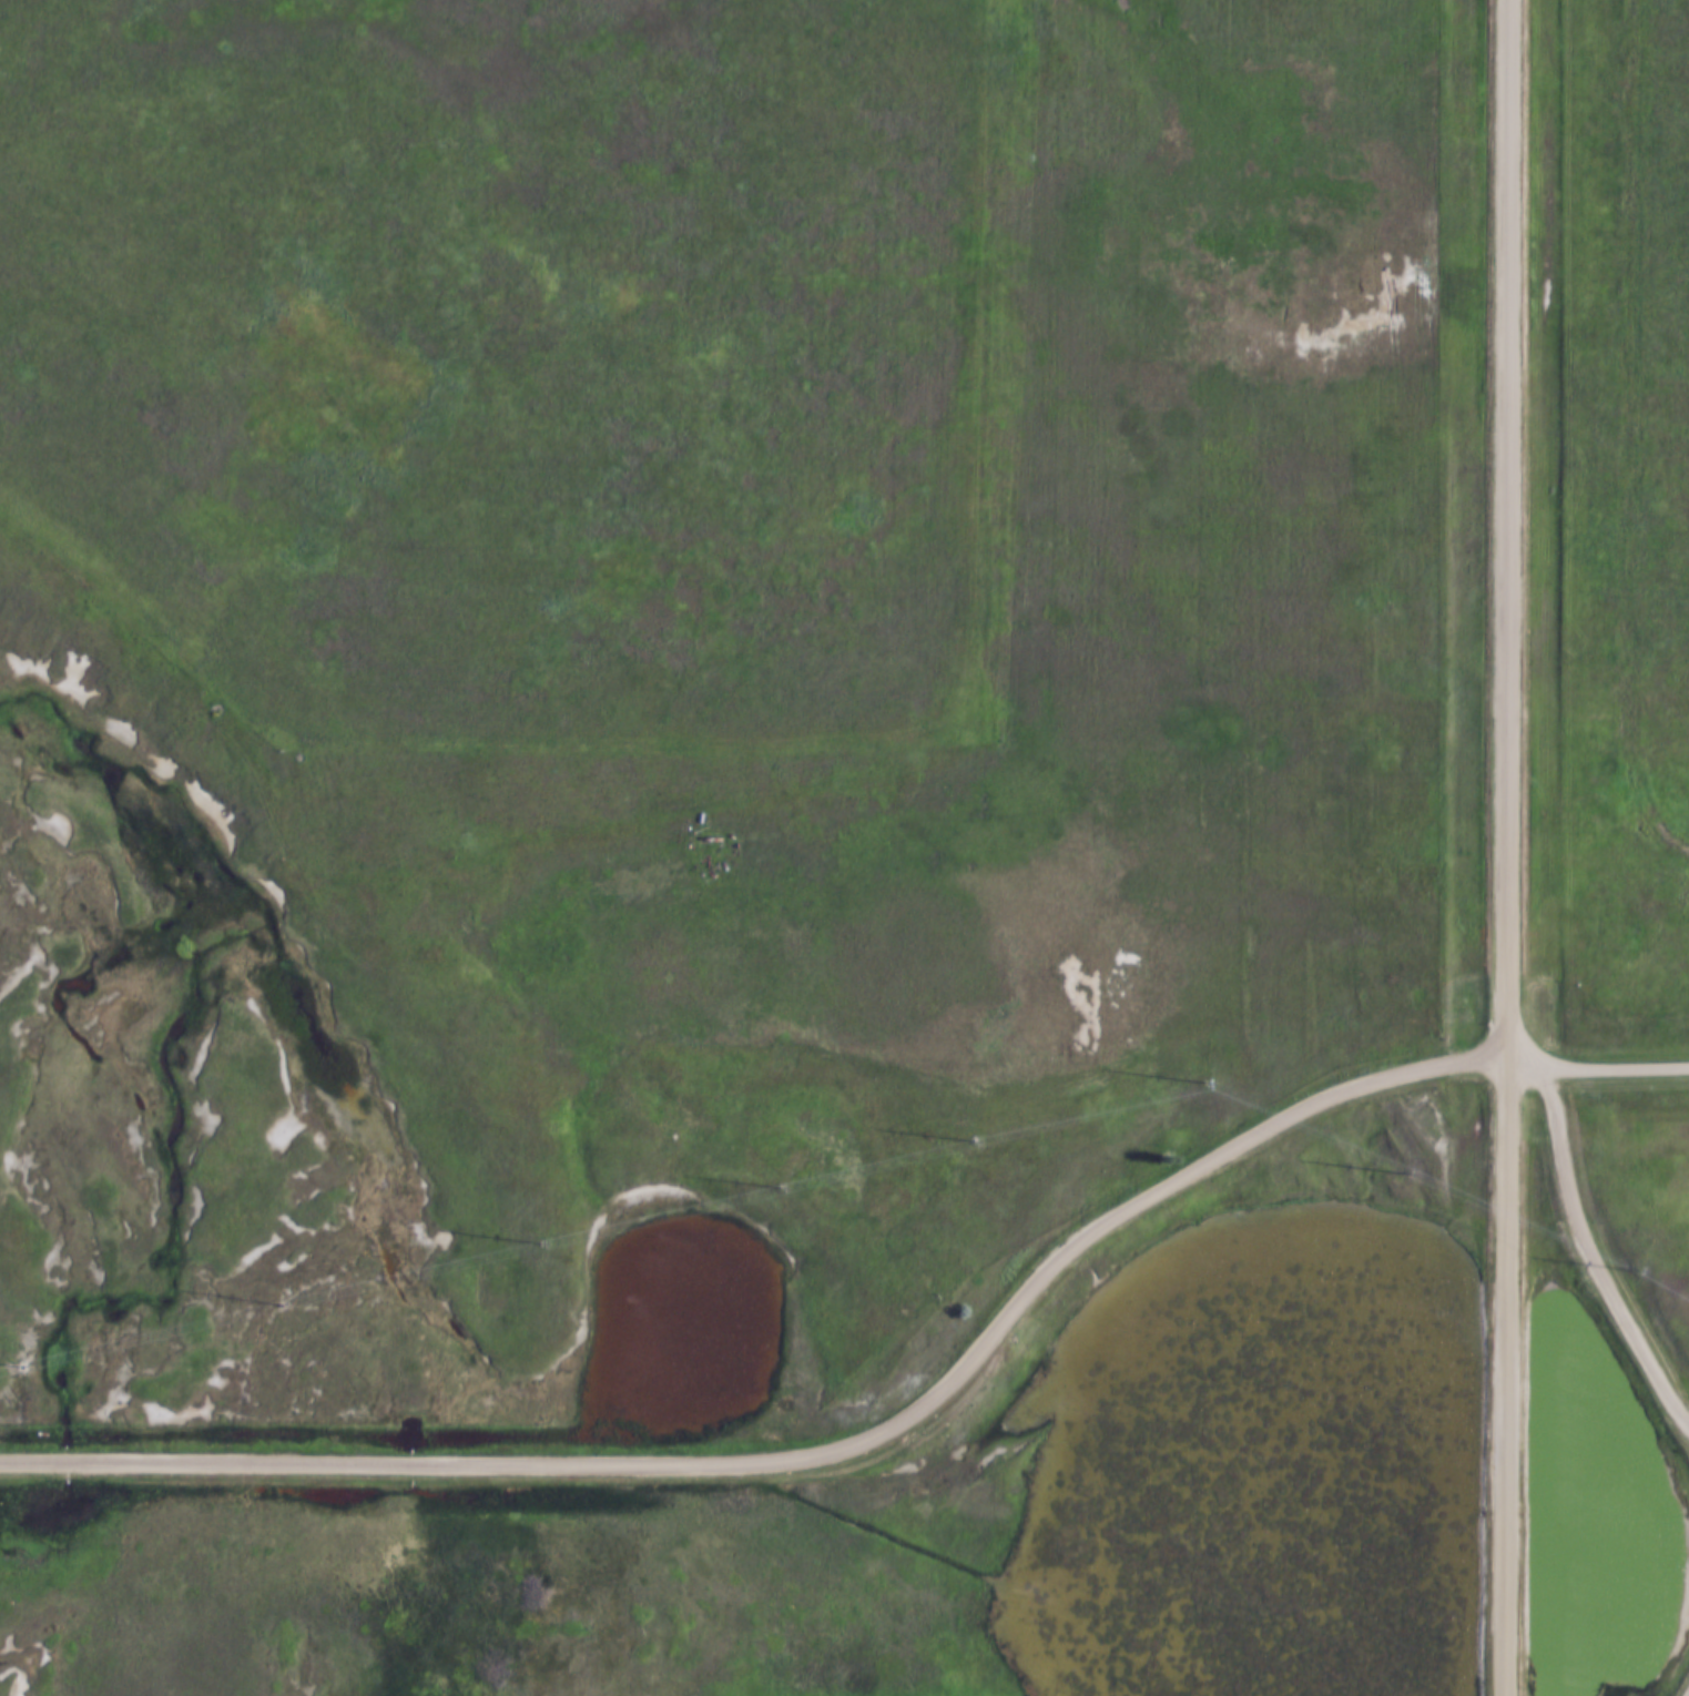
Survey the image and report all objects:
road: (1508, 847)
road: (1598, 1070)
road: (1593, 1256)
road: (818, 1458)

